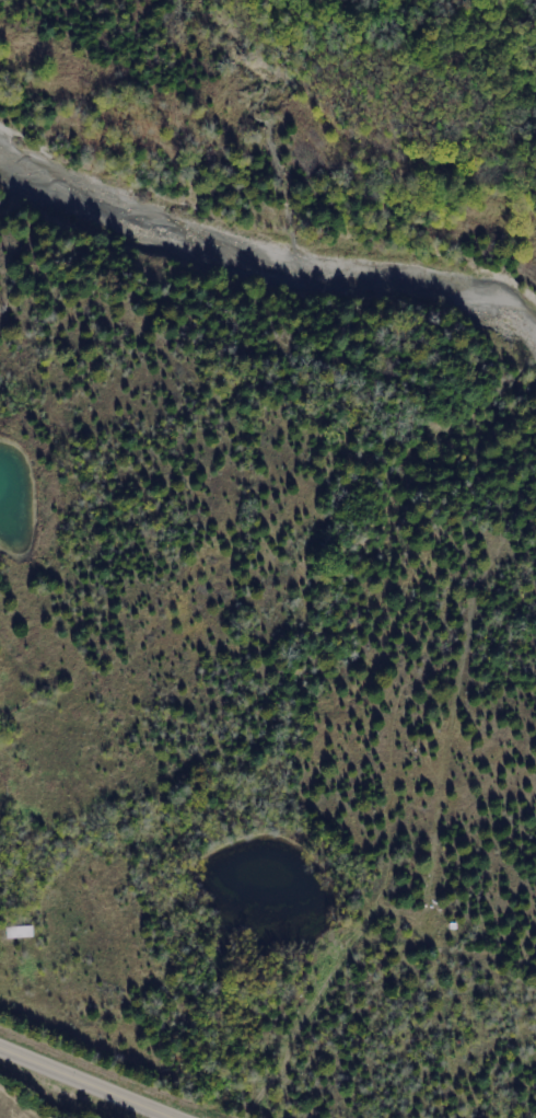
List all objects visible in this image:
road: (95, 1081)

